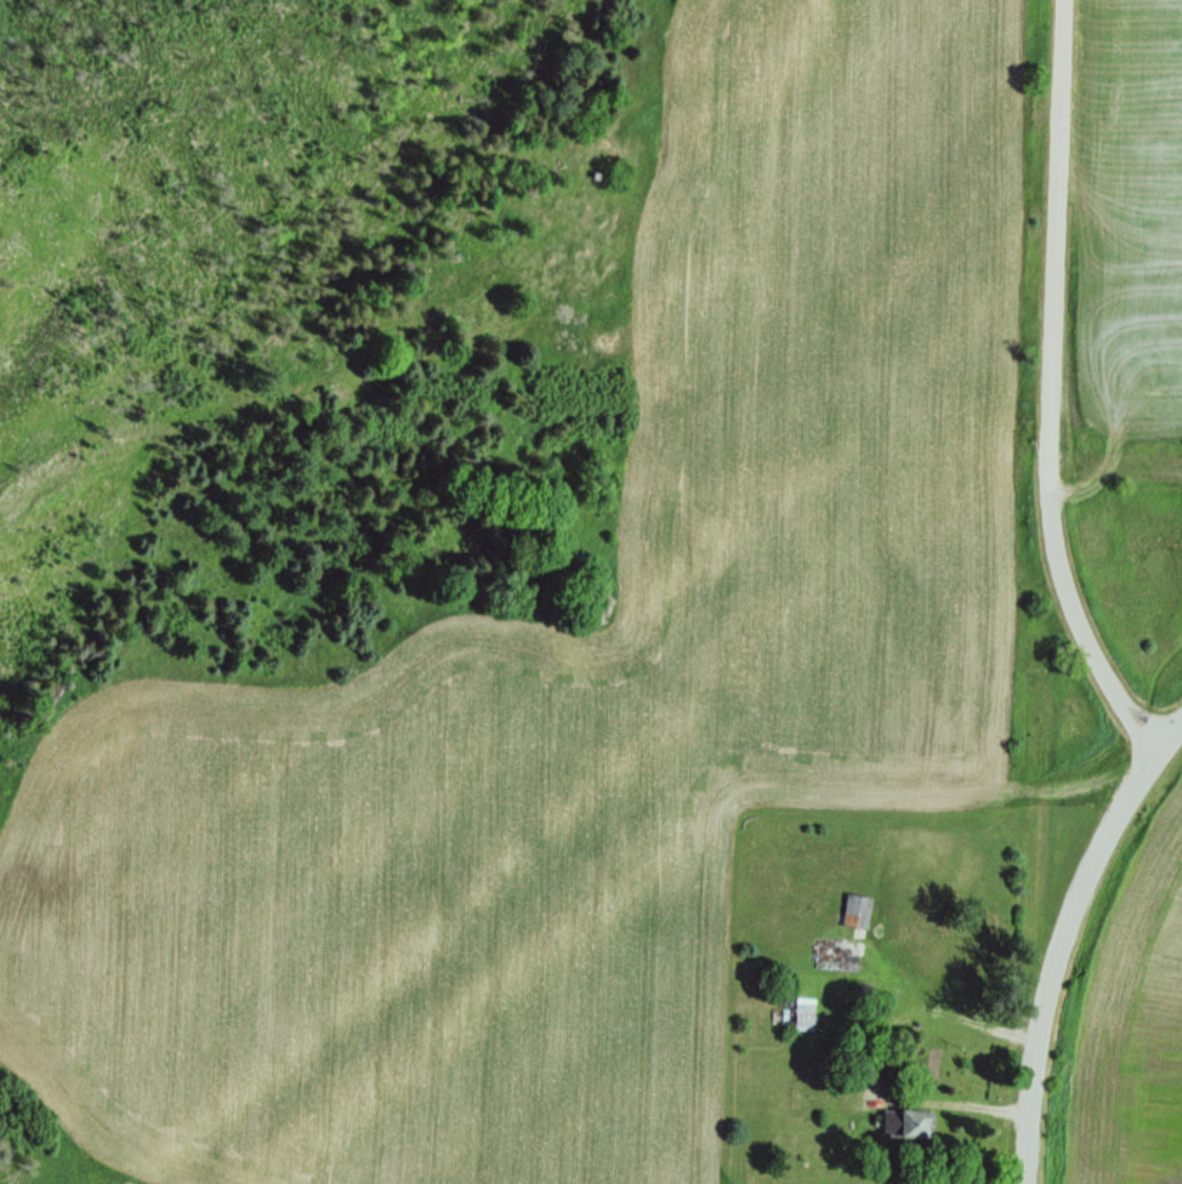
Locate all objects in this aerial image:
road: (1056, 387)
building: (858, 912)
road: (1065, 940)
building: (843, 962)
building: (805, 1015)
road: (957, 1020)
building: (915, 1127)

